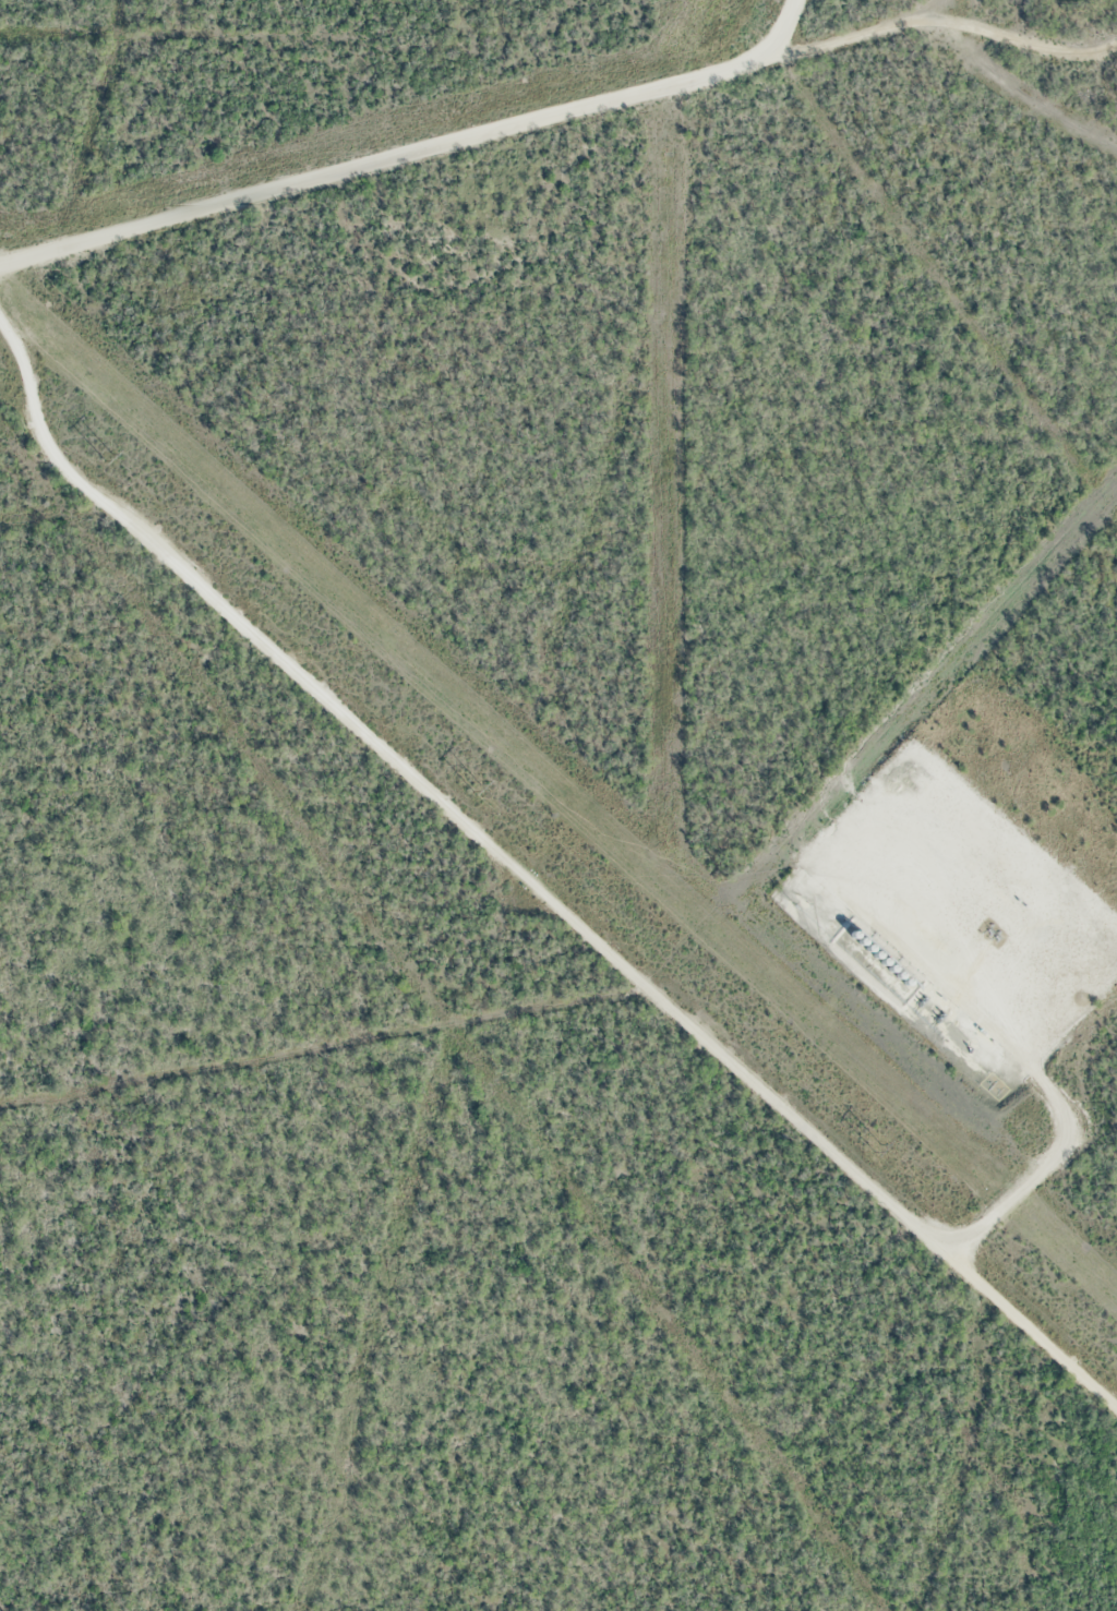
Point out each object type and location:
road: (445, 128)
power tower: (110, 456)
power tower: (479, 786)
power tower: (877, 1146)

